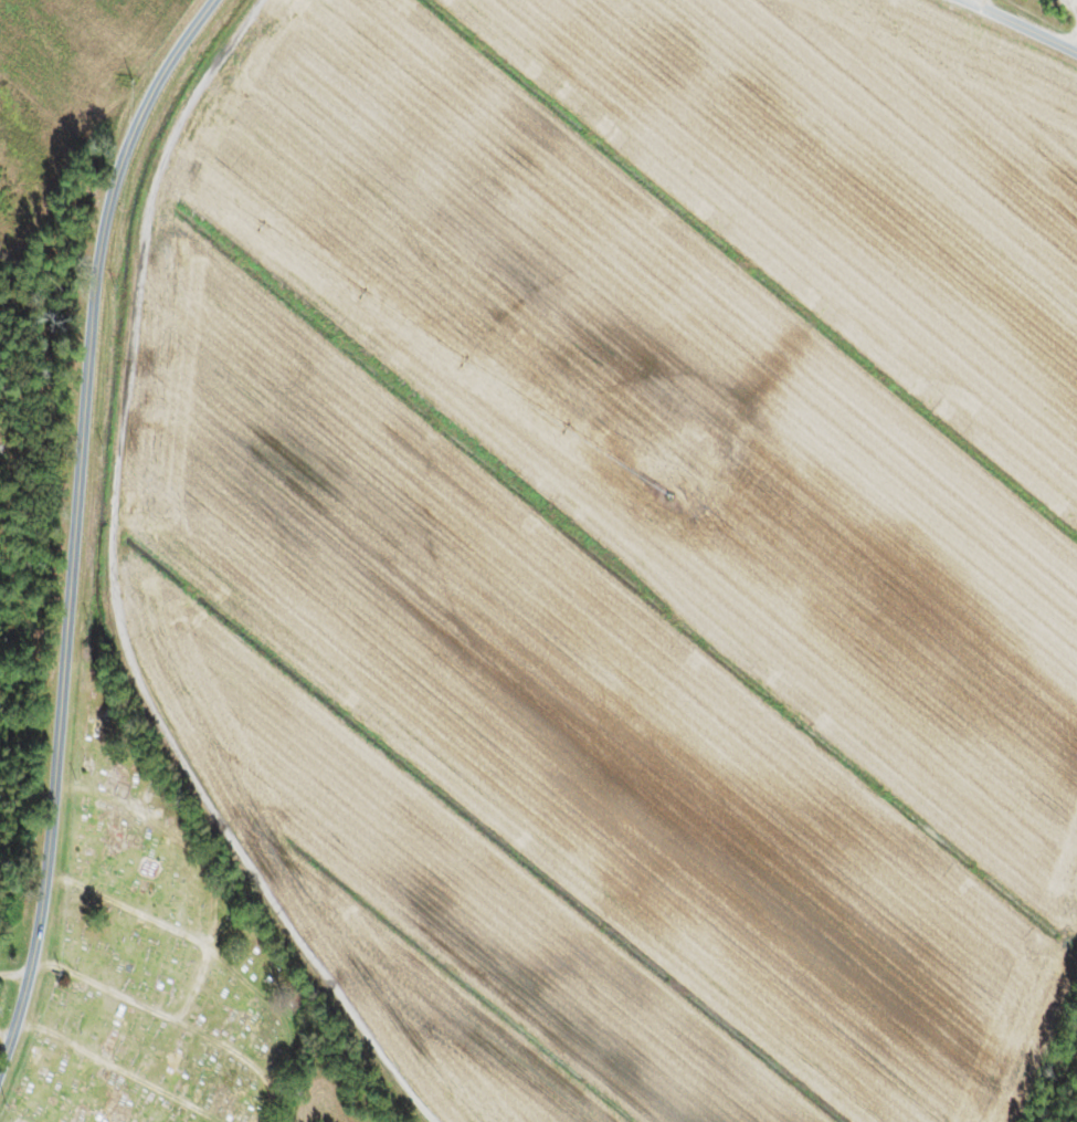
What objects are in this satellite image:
road: (1022, 24)
road: (75, 523)
park: (154, 953)

